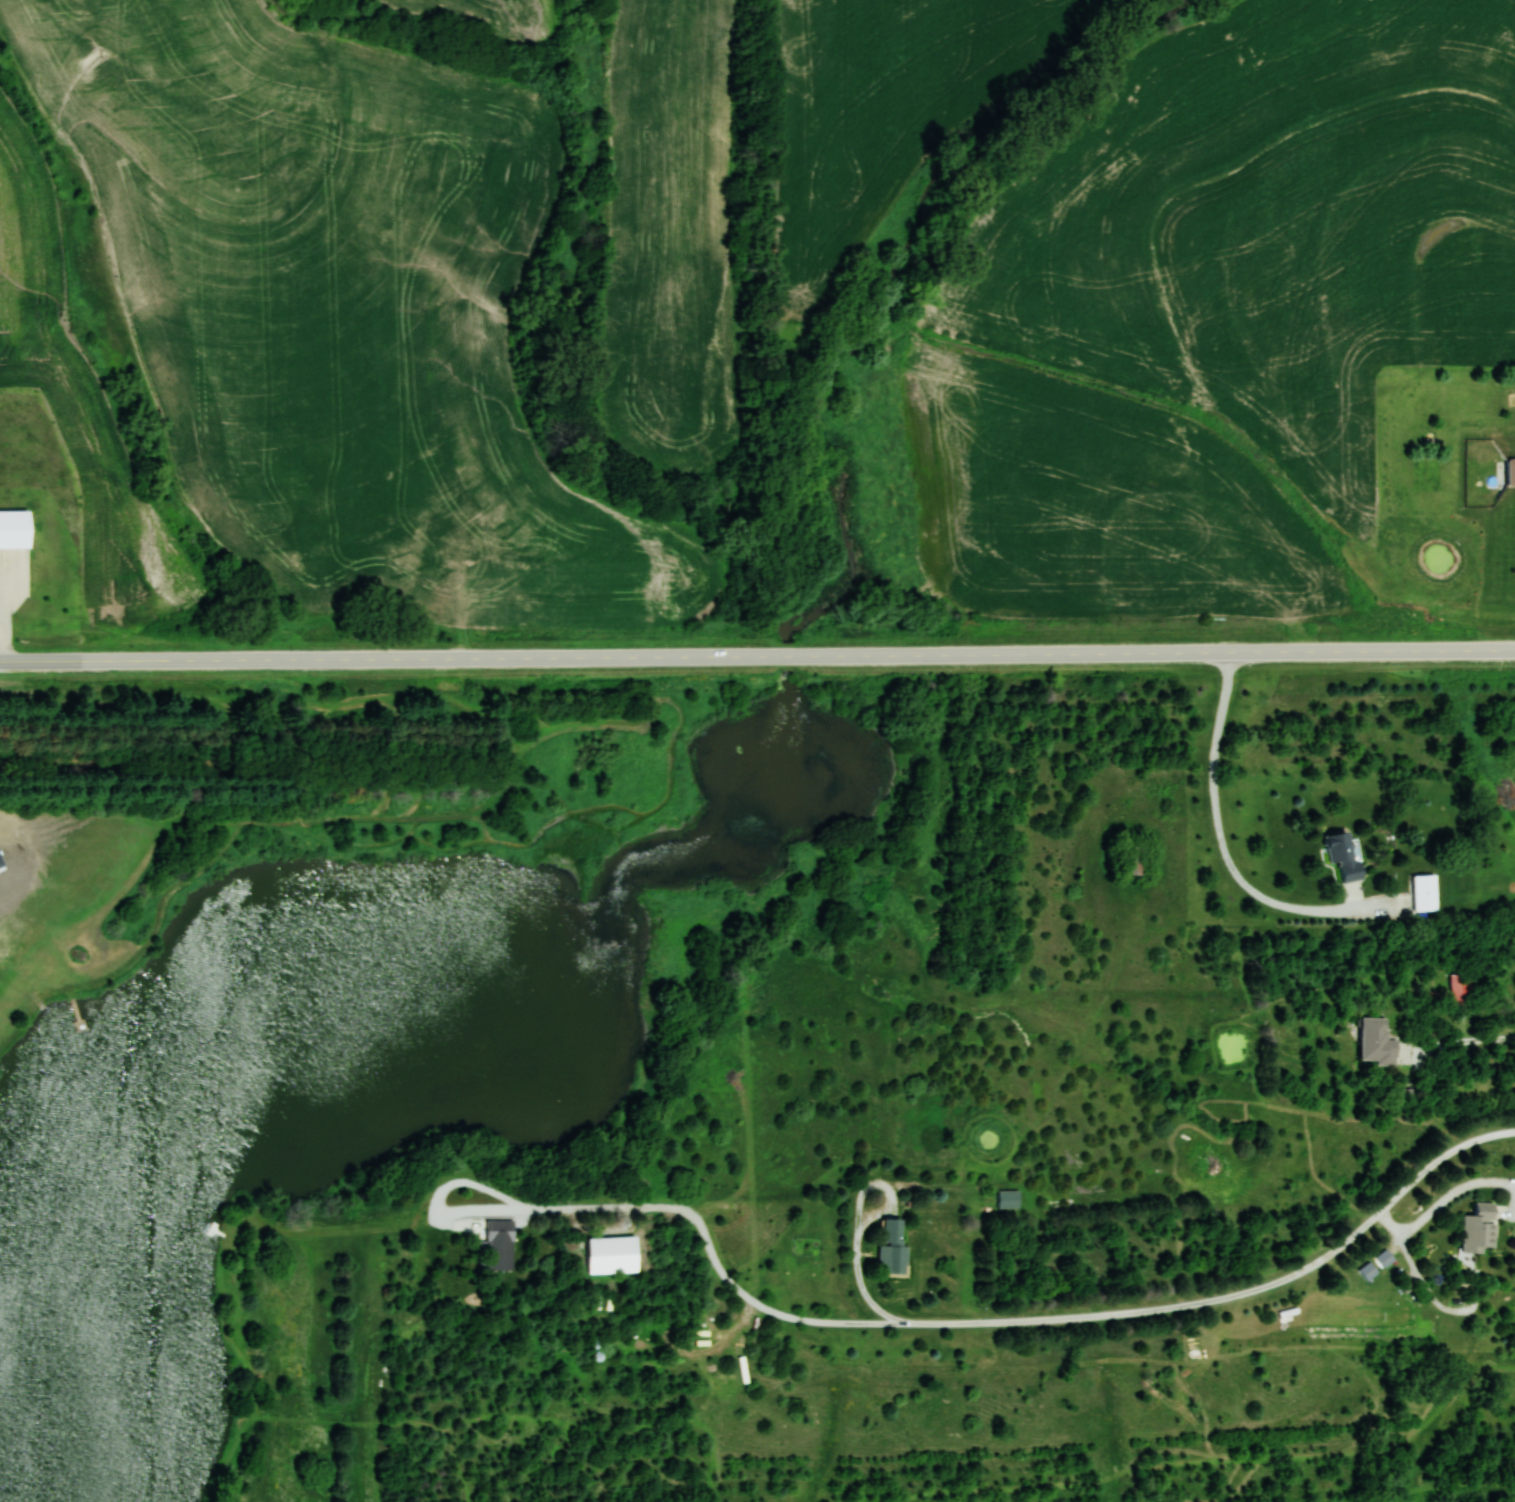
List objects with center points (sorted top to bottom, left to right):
building: (1512, 471)
building: (20, 529)
road: (757, 656)
building: (1346, 855)
building: (1426, 892)
building: (1462, 988)
building: (1378, 1042)
road: (885, 1186)
building: (1008, 1199)
building: (1481, 1229)
building: (500, 1230)
building: (893, 1247)
road: (1170, 1305)

